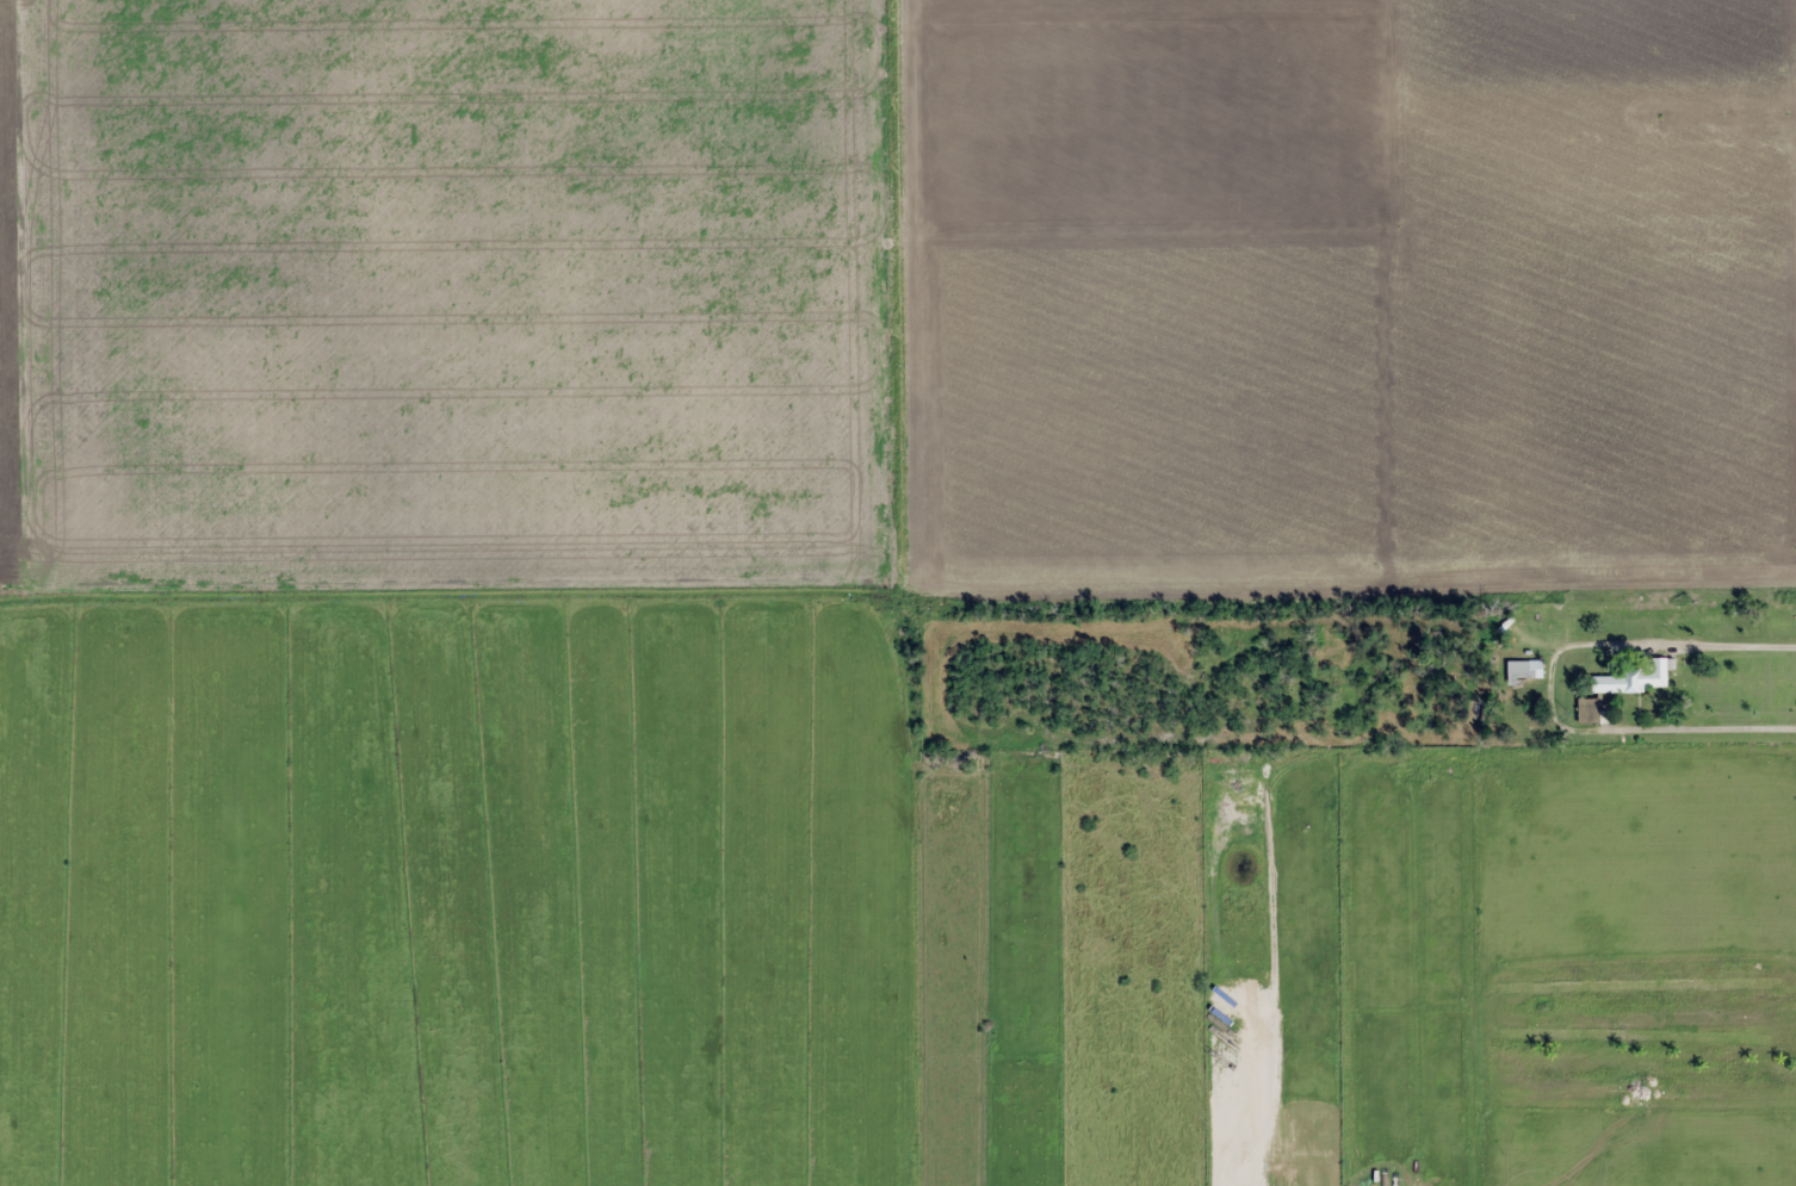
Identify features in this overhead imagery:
building: (1524, 671)
building: (1647, 673)
building: (1594, 700)

